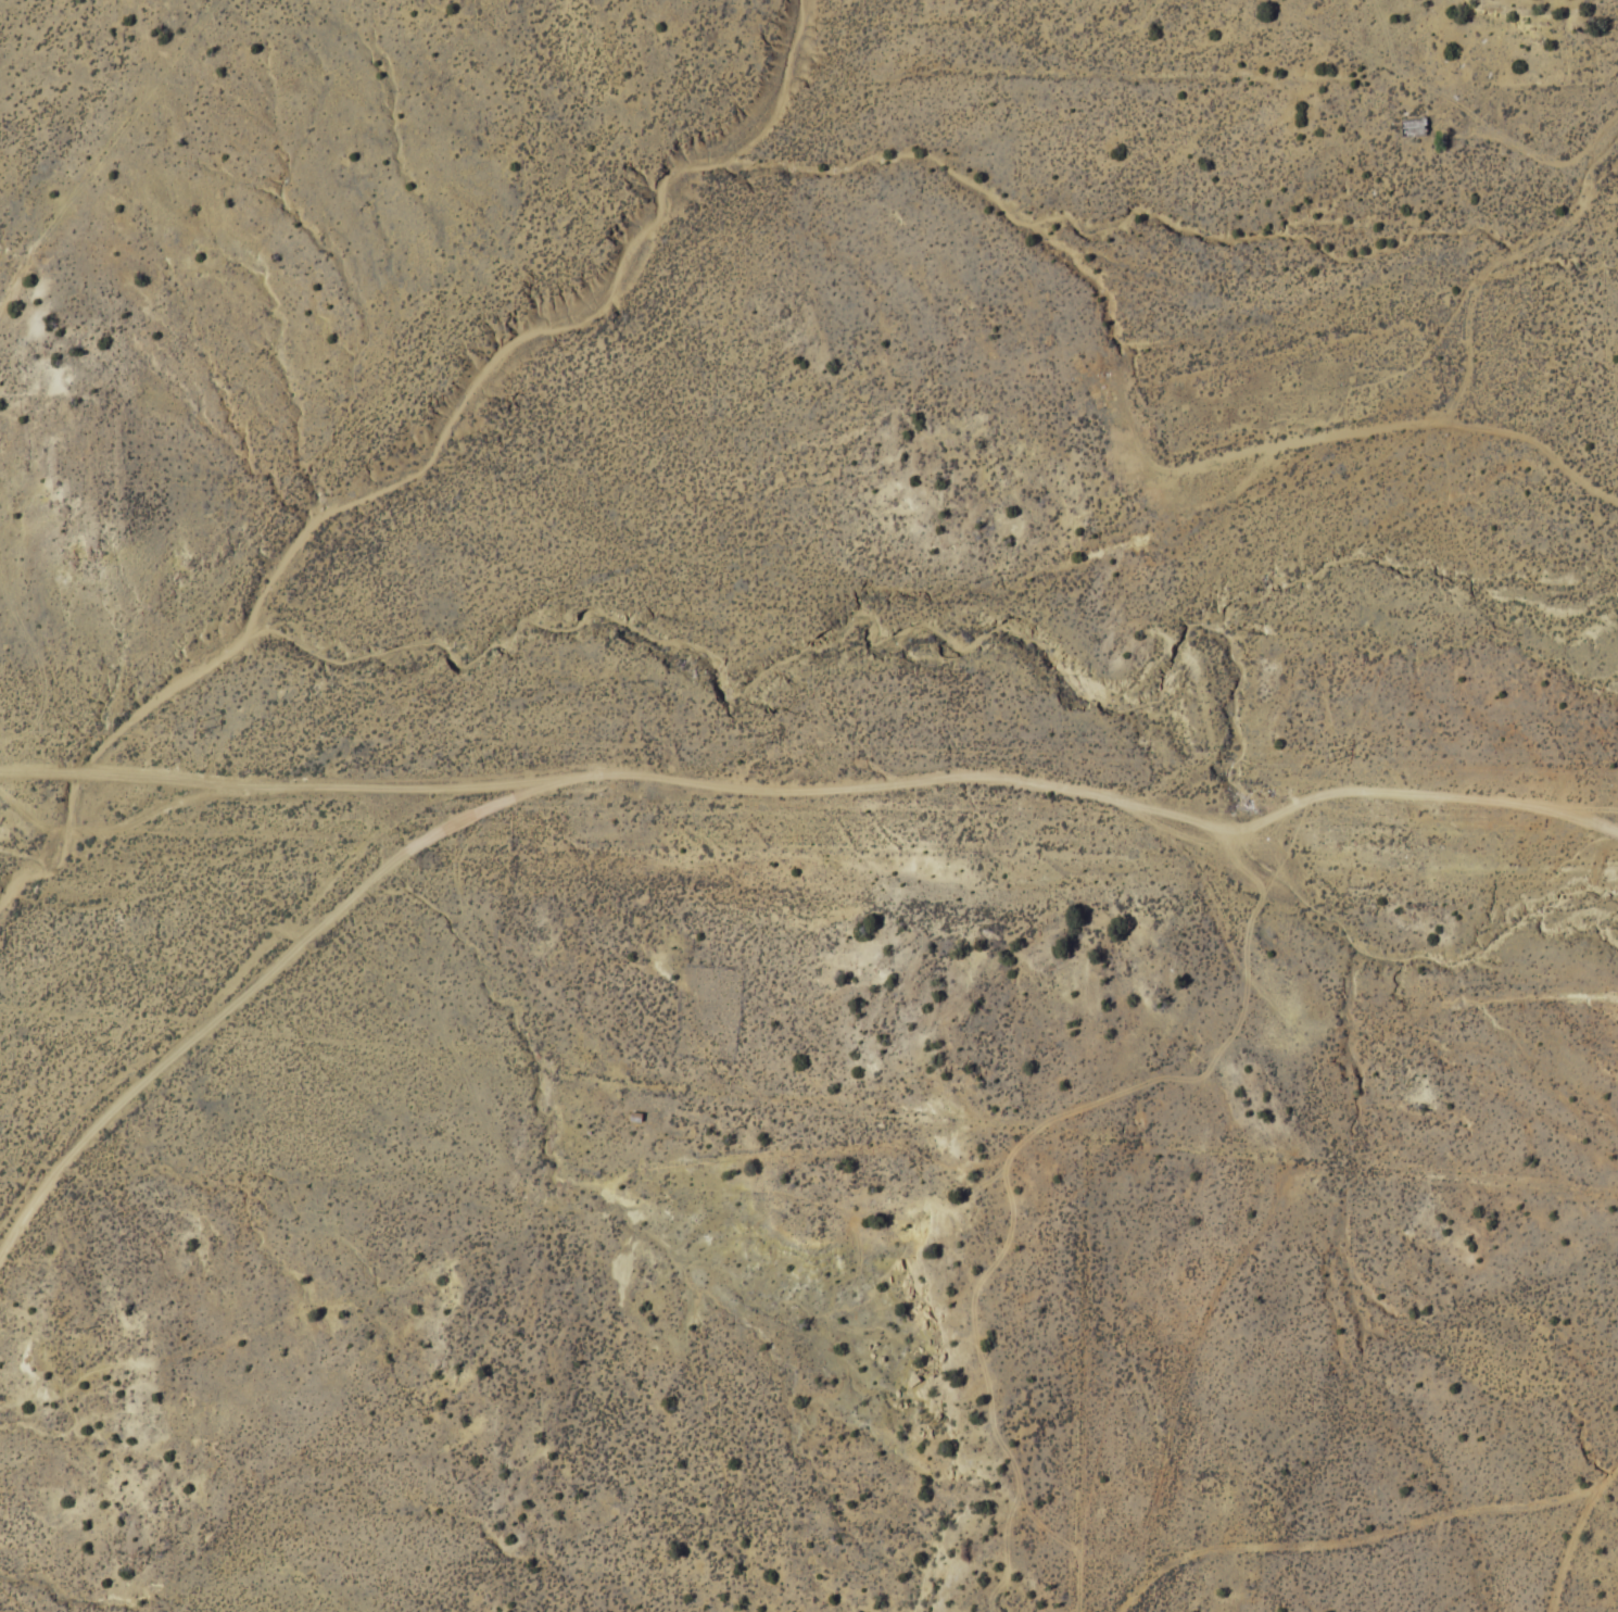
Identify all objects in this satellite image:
power tower: (1333, 758)
road: (719, 771)

